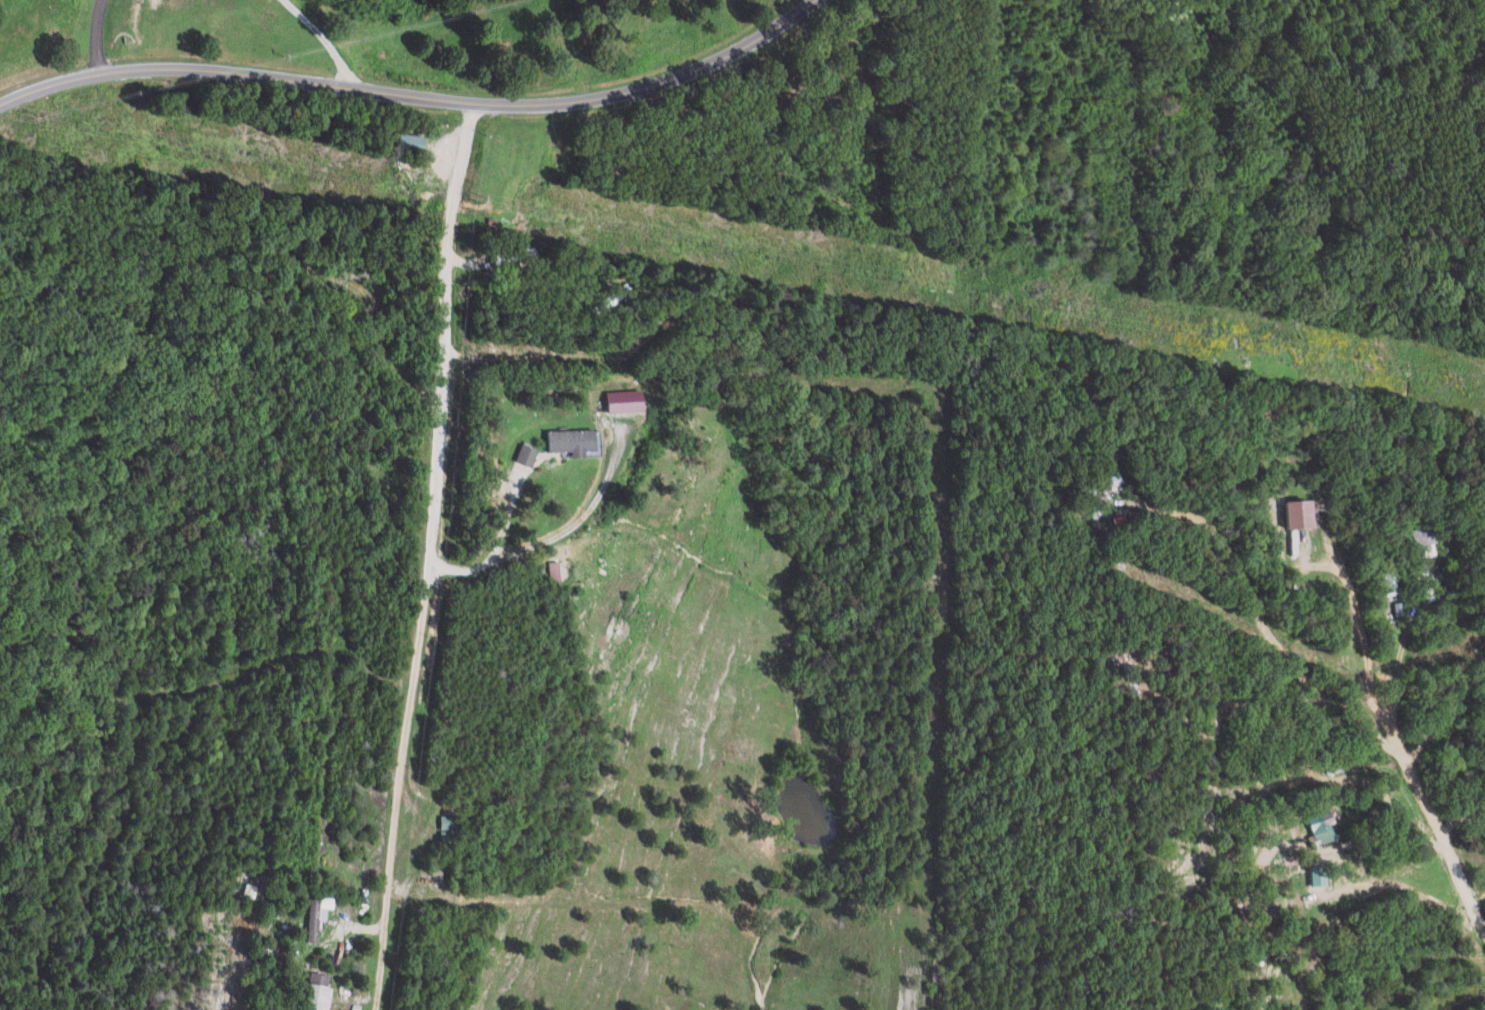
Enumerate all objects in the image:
road: (99, 38)
road: (323, 38)
road: (413, 95)
building: (413, 142)
power tower: (488, 201)
power tower: (1064, 307)
building: (629, 401)
building: (577, 441)
building: (529, 455)
building: (1303, 514)
road: (580, 523)
road: (417, 557)
road: (1256, 633)
road: (1392, 648)
road: (1364, 673)
road: (1402, 771)
building: (1321, 833)
road: (1320, 843)
road: (1477, 907)
building: (315, 916)
road: (344, 939)
road: (1420, 965)
building: (318, 992)

